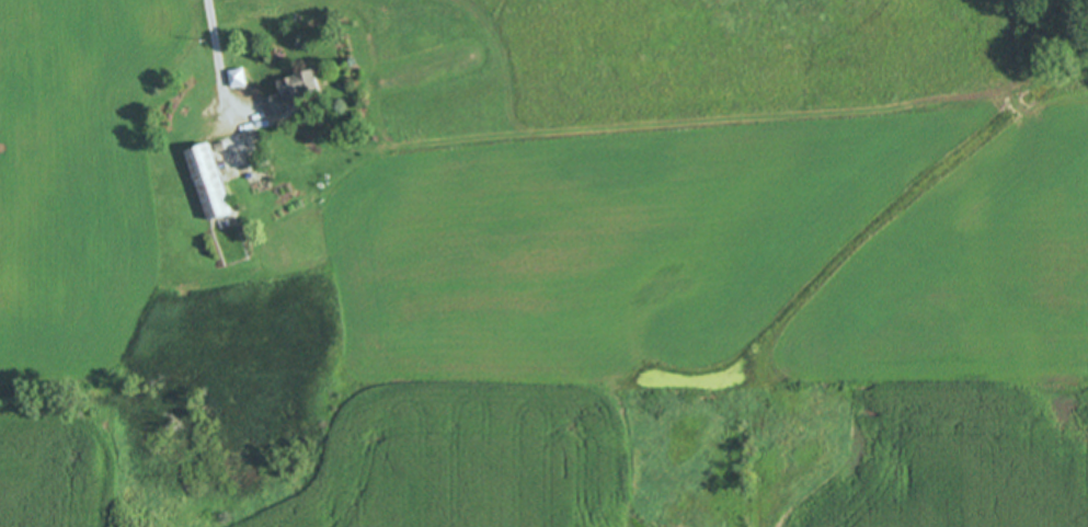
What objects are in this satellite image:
road: (221, 56)
building: (234, 80)
building: (287, 95)
building: (207, 185)

